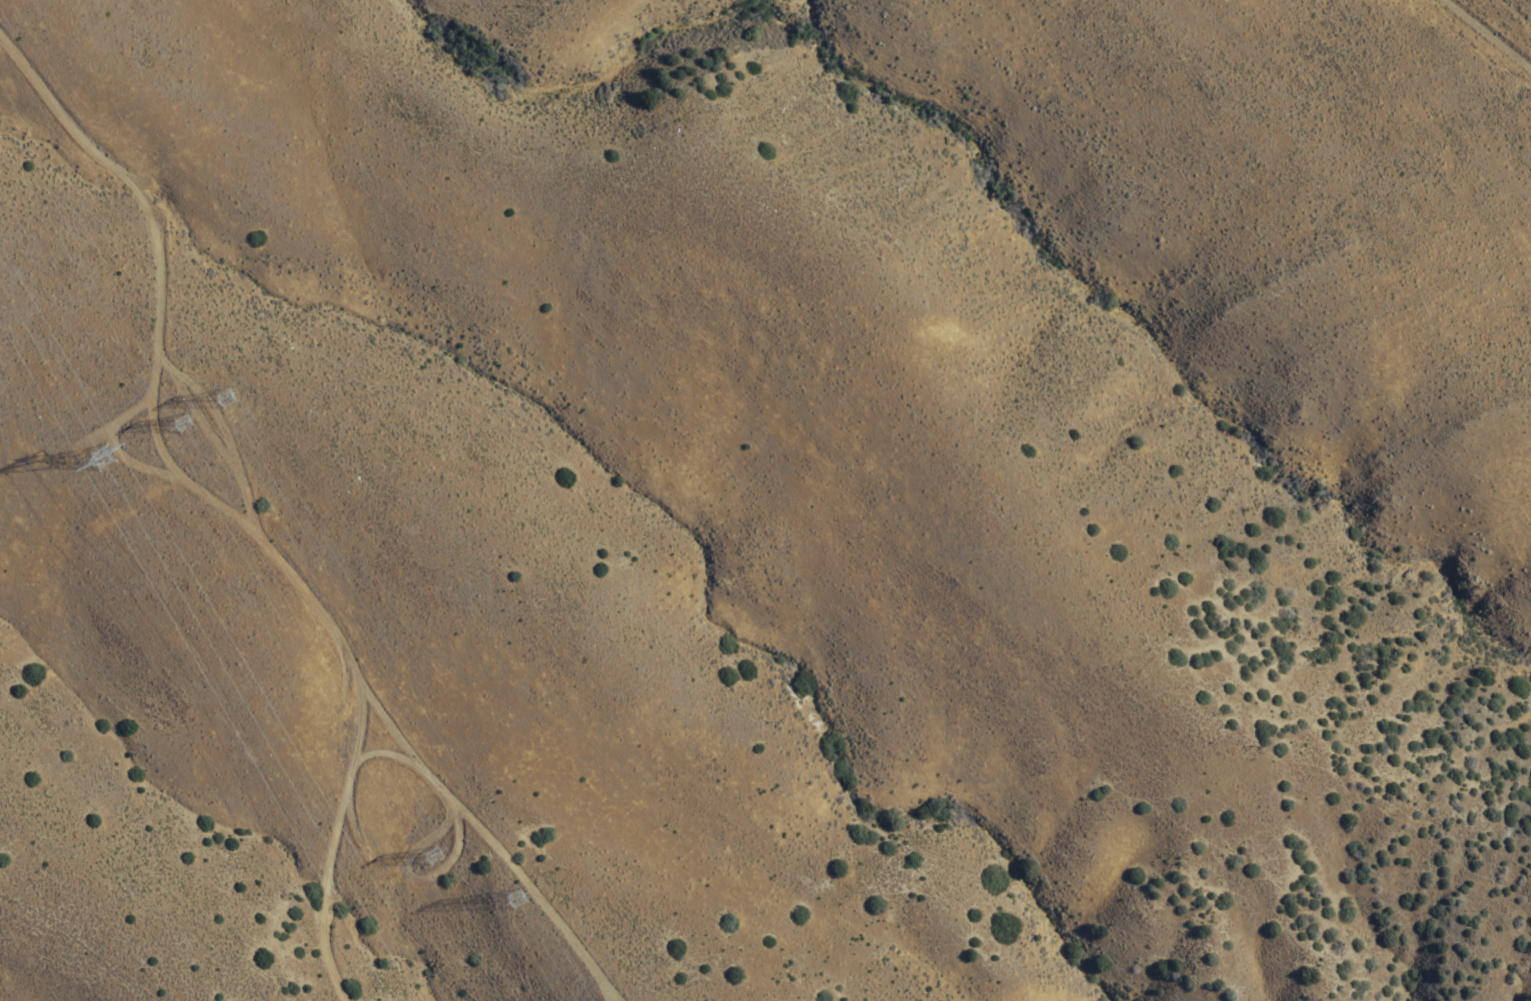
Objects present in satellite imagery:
road: (1492, 31)
power tower: (224, 400)
power tower: (181, 424)
power tower: (110, 461)
road: (221, 505)
power tower: (432, 853)
power tower: (517, 902)

